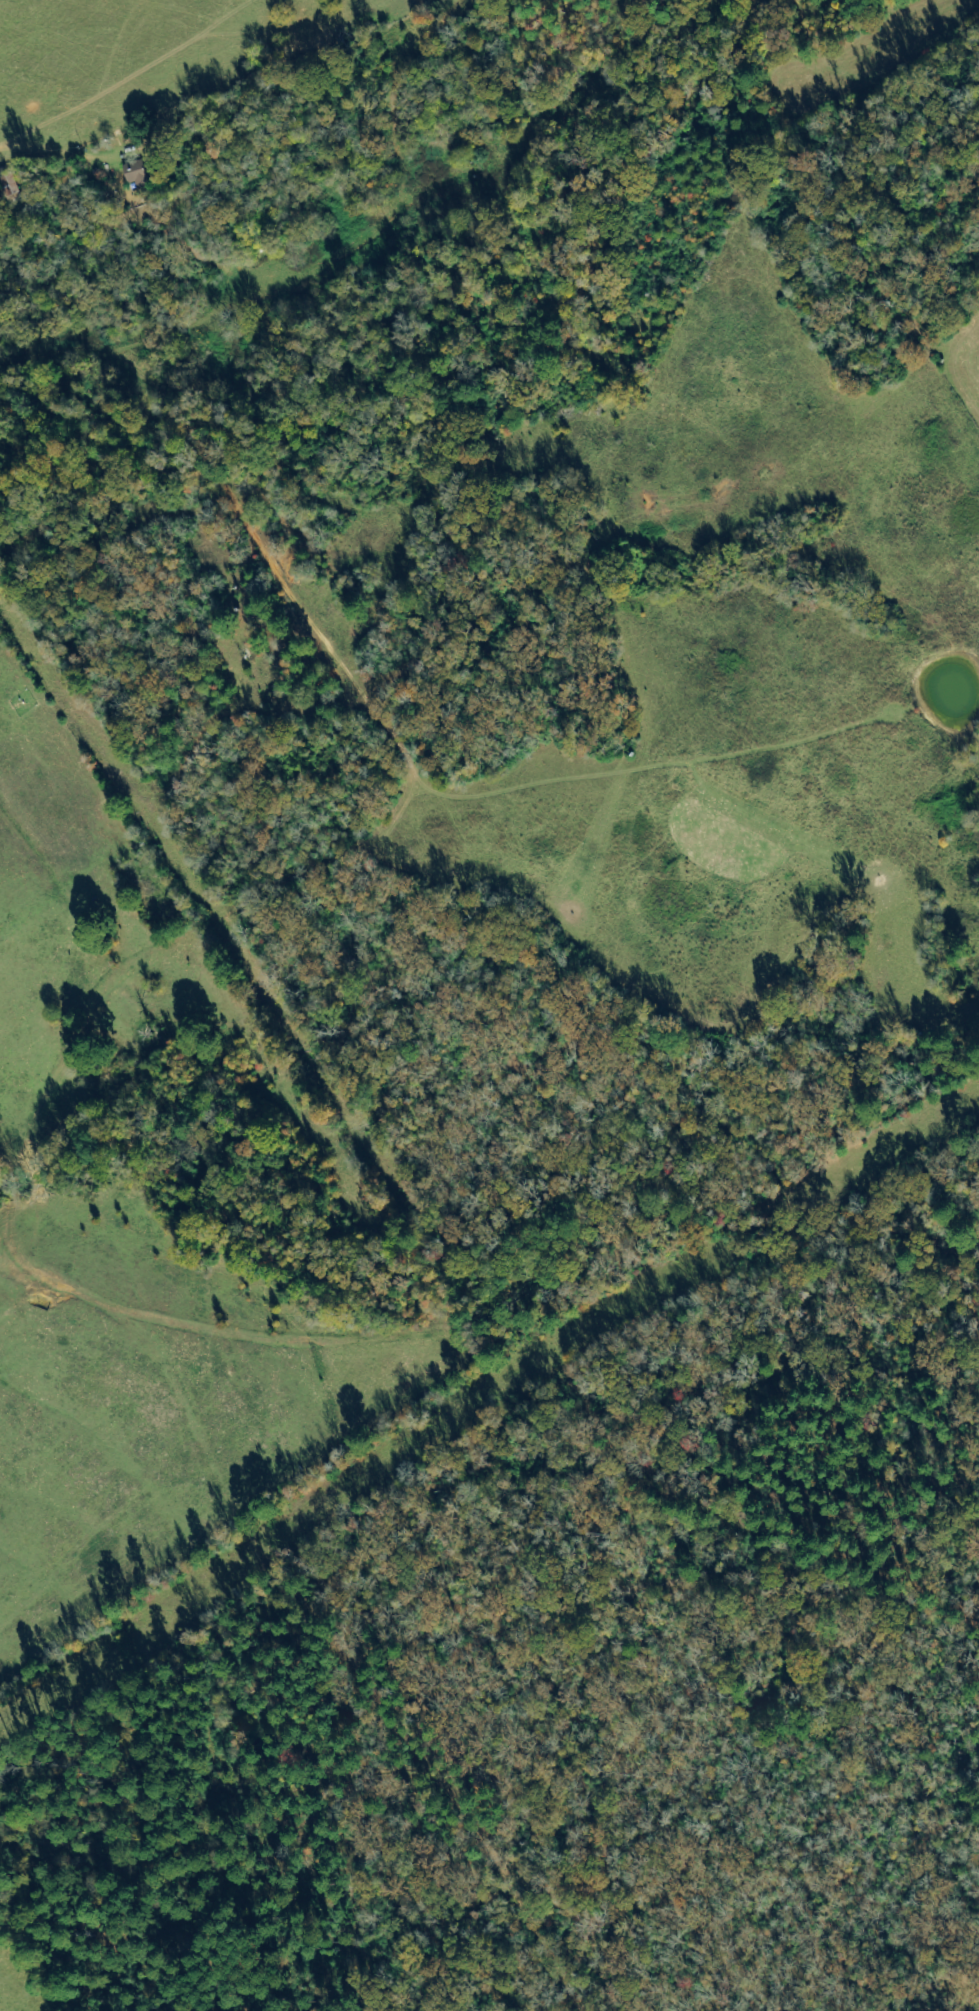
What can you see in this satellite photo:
road: (302, 622)
road: (116, 806)
road: (436, 1248)
road: (277, 1622)

